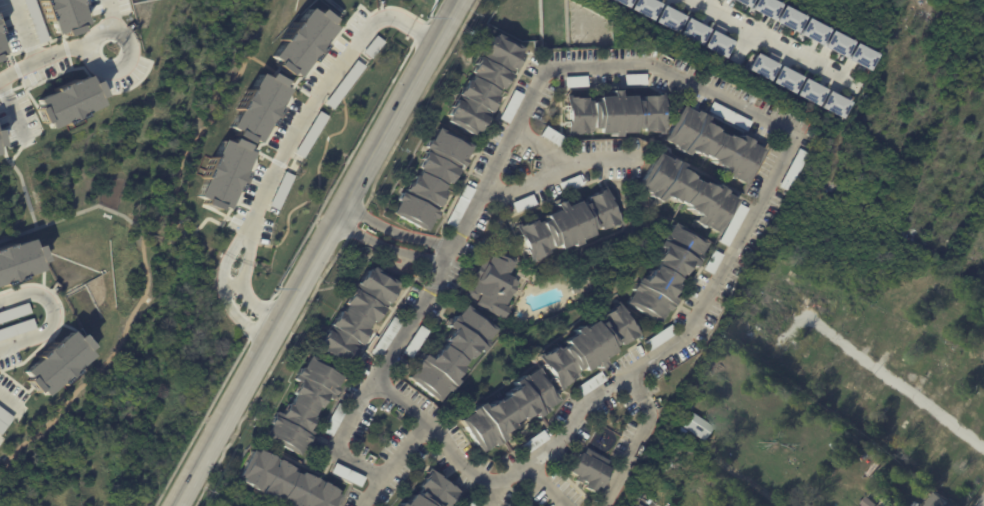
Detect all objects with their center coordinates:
building: (613, 3)
building: (732, 3)
building: (637, 8)
building: (756, 9)
road: (107, 13)
building: (62, 15)
building: (780, 18)
building: (662, 20)
road: (121, 29)
road: (23, 31)
road: (422, 32)
building: (685, 32)
building: (803, 33)
road: (767, 40)
building: (305, 42)
building: (709, 45)
building: (828, 45)
building: (0, 51)
road: (45, 56)
building: (852, 58)
building: (753, 68)
road: (539, 80)
building: (779, 80)
building: (633, 81)
building: (574, 83)
building: (483, 85)
building: (802, 93)
building: (68, 101)
road: (311, 103)
building: (828, 105)
building: (260, 107)
building: (510, 108)
building: (612, 116)
building: (726, 117)
building: (550, 137)
building: (709, 146)
road: (562, 158)
building: (791, 171)
building: (227, 173)
building: (430, 181)
road: (522, 182)
building: (567, 185)
building: (688, 199)
building: (522, 205)
building: (459, 207)
building: (564, 225)
road: (392, 231)
road: (240, 241)
road: (250, 246)
road: (385, 247)
road: (318, 253)
building: (18, 261)
building: (708, 264)
building: (796, 272)
building: (658, 273)
building: (492, 286)
building: (781, 293)
road: (252, 295)
road: (228, 306)
building: (770, 313)
road: (52, 314)
building: (356, 316)
building: (857, 316)
building: (875, 324)
building: (754, 329)
building: (905, 331)
building: (888, 335)
building: (384, 337)
building: (656, 339)
building: (414, 343)
building: (582, 347)
building: (904, 347)
building: (806, 351)
building: (942, 353)
building: (448, 354)
building: (925, 356)
building: (59, 362)
building: (826, 365)
building: (943, 366)
building: (956, 366)
building: (350, 369)
building: (960, 378)
building: (842, 379)
road: (897, 383)
building: (584, 385)
building: (880, 388)
building: (858, 391)
building: (964, 399)
road: (9, 401)
building: (976, 403)
road: (396, 404)
building: (303, 405)
building: (878, 409)
building: (504, 412)
building: (858, 415)
road: (569, 417)
building: (333, 419)
building: (898, 422)
building: (690, 426)
building: (919, 436)
building: (527, 446)
building: (843, 452)
building: (936, 454)
building: (955, 465)
building: (876, 466)
building: (585, 471)
building: (345, 475)
building: (285, 482)
road: (363, 490)
road: (484, 491)
building: (428, 492)
building: (941, 501)
building: (466, 502)
building: (871, 502)
building: (517, 505)

